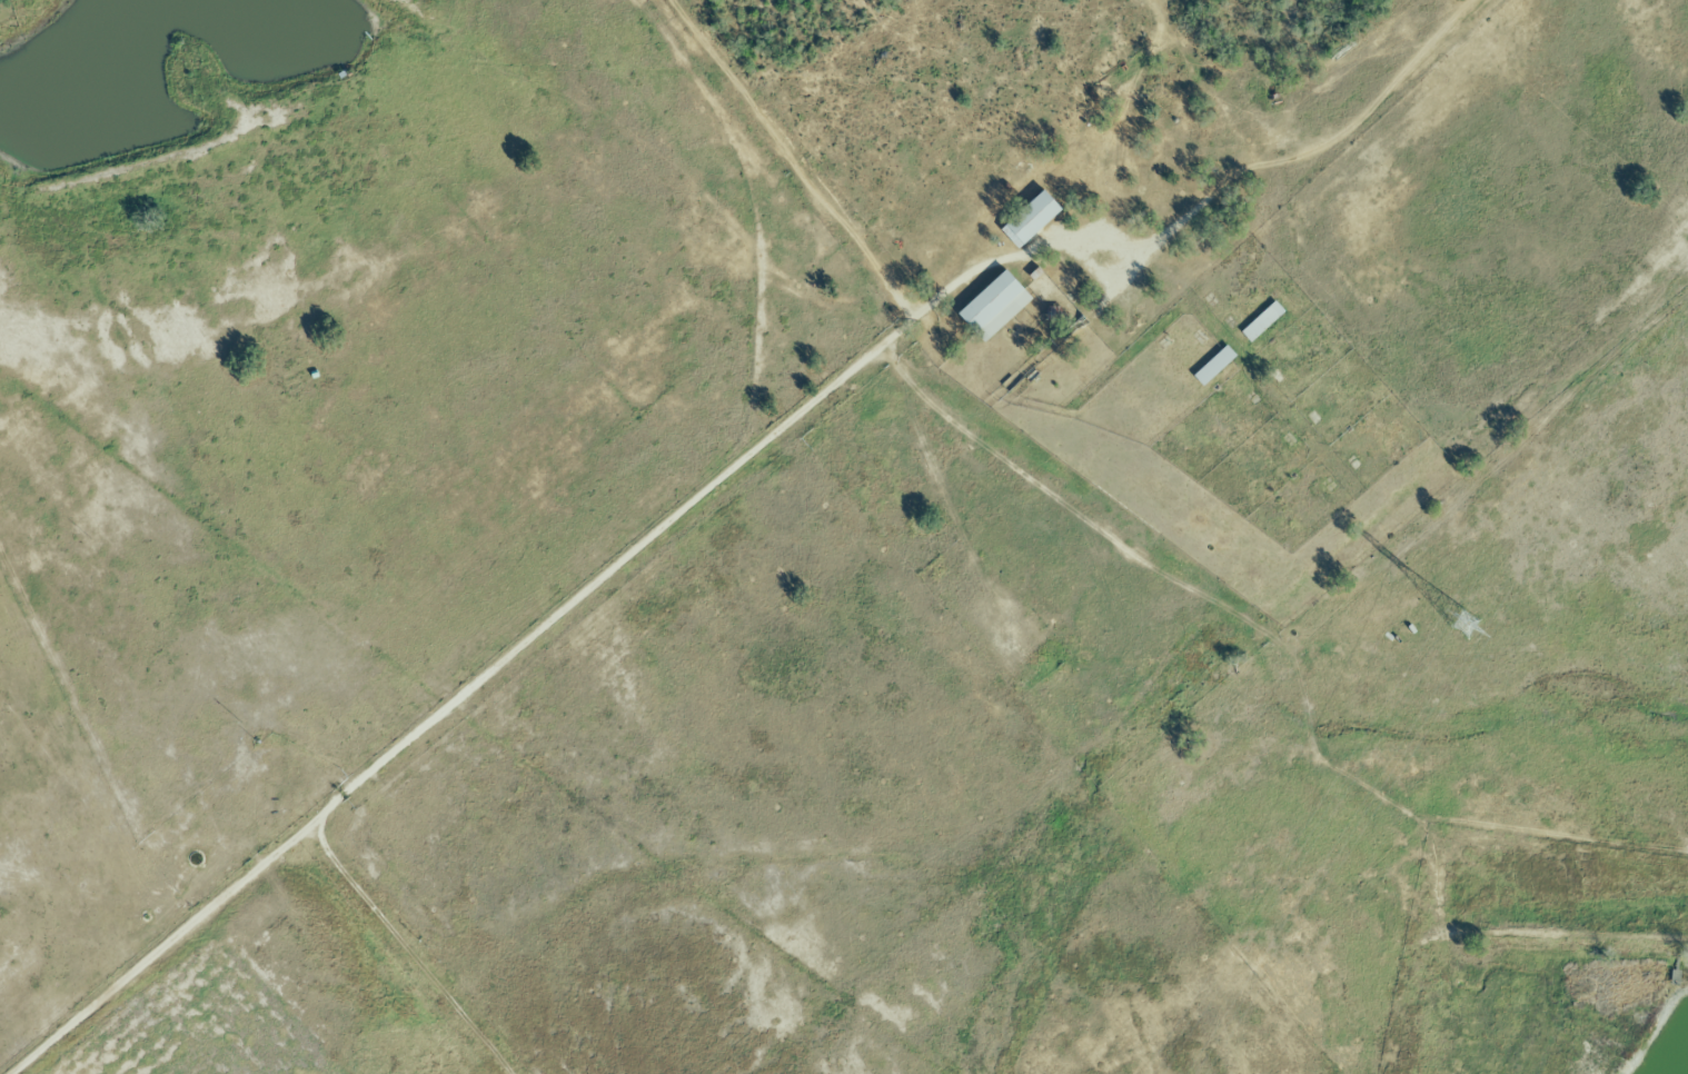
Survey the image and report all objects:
building: (1026, 220)
building: (990, 308)
building: (1259, 322)
building: (1211, 367)
road: (556, 610)
power tower: (1461, 621)

